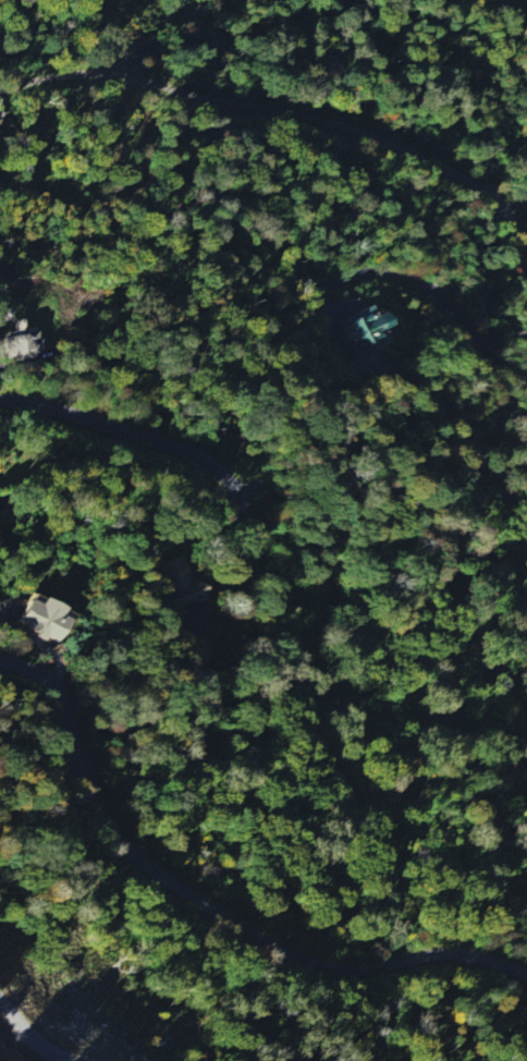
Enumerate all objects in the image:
road: (523, 1)
road: (292, 115)
building: (364, 330)
building: (21, 344)
road: (131, 438)
building: (176, 581)
building: (38, 618)
road: (206, 907)

